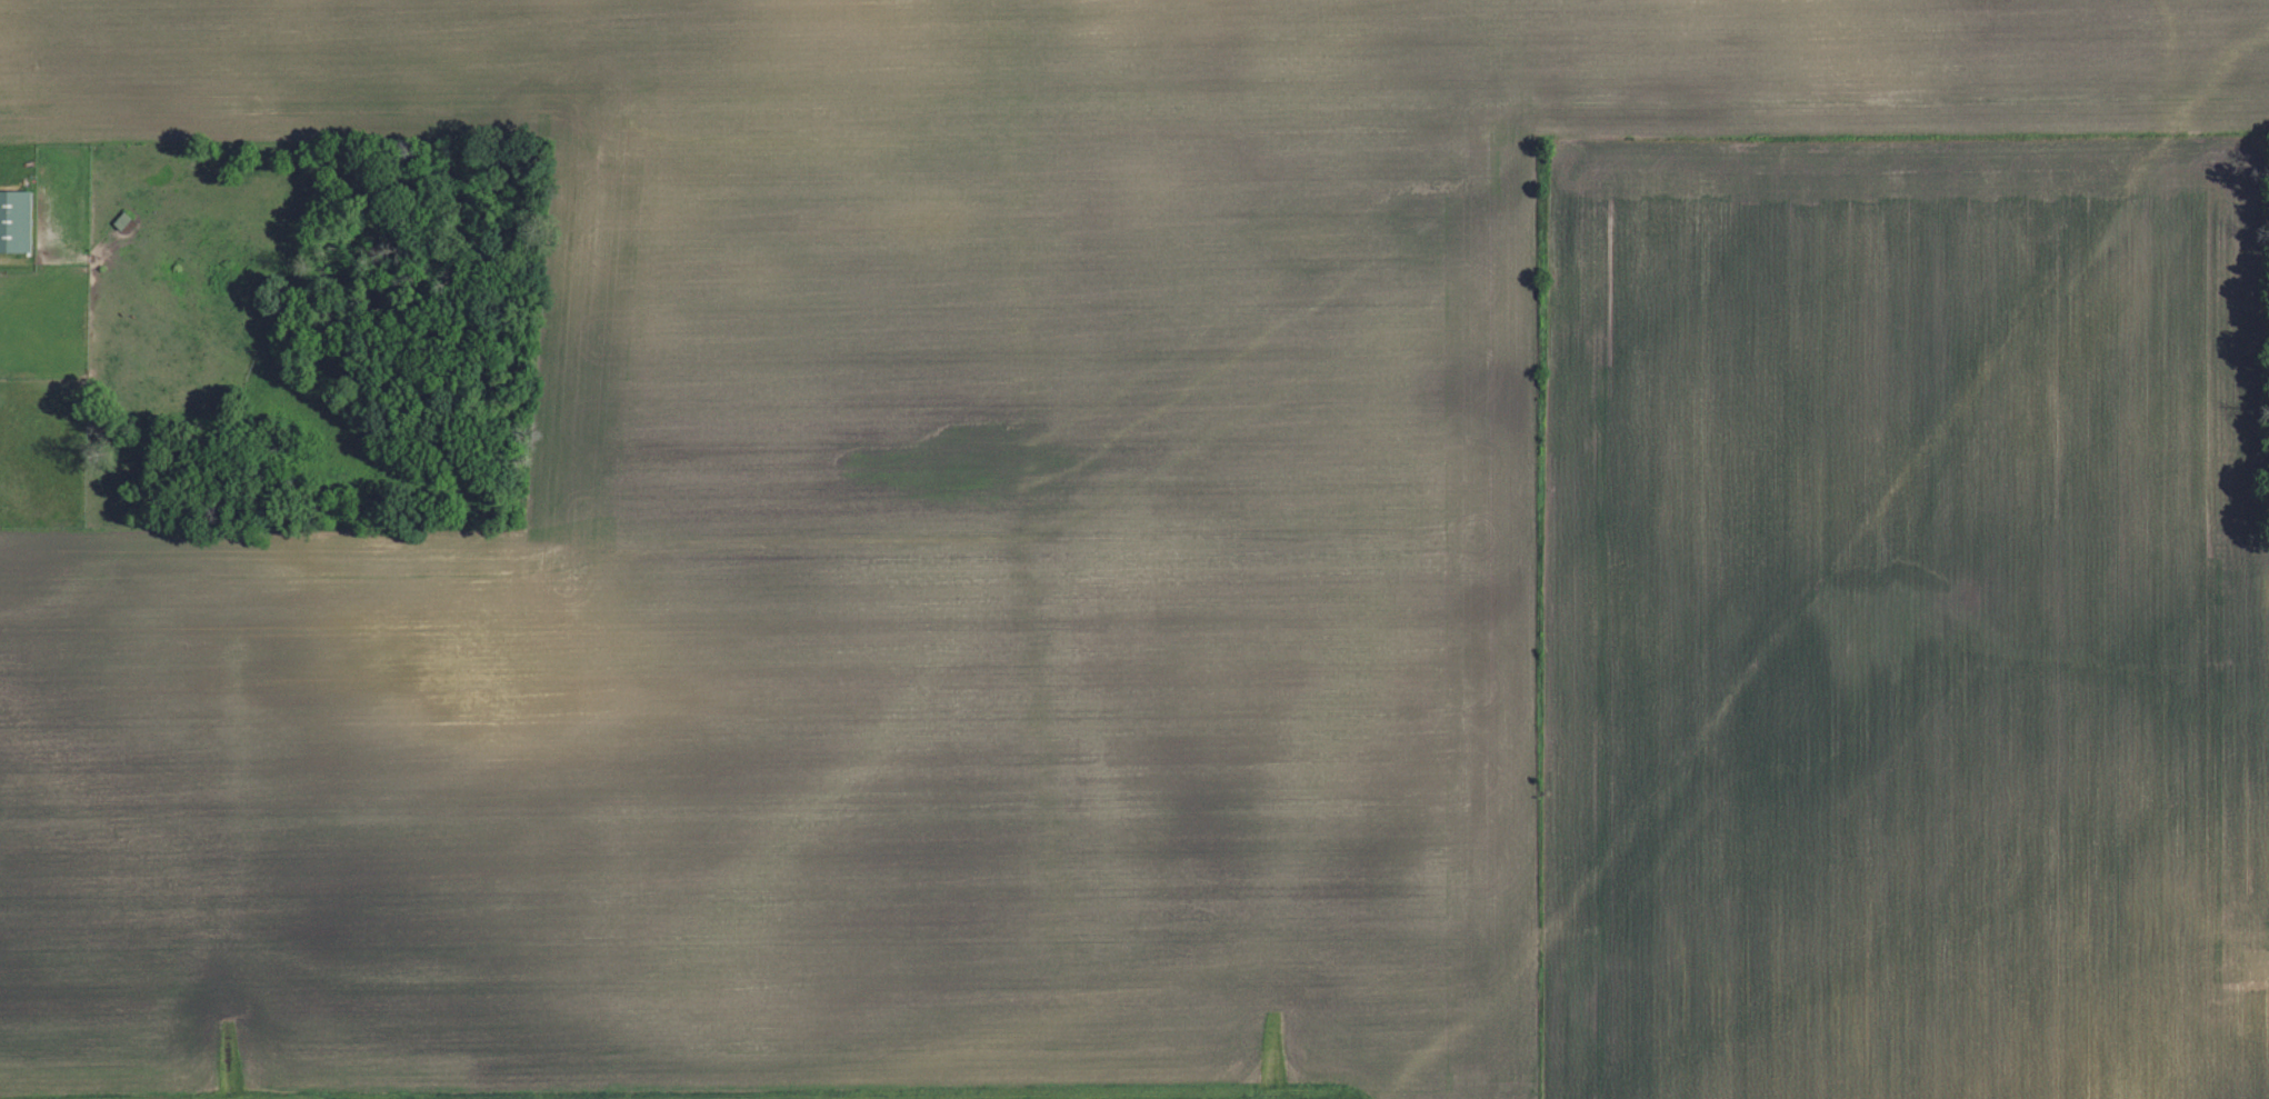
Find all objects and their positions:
building: (16, 221)
road: (14, 258)

